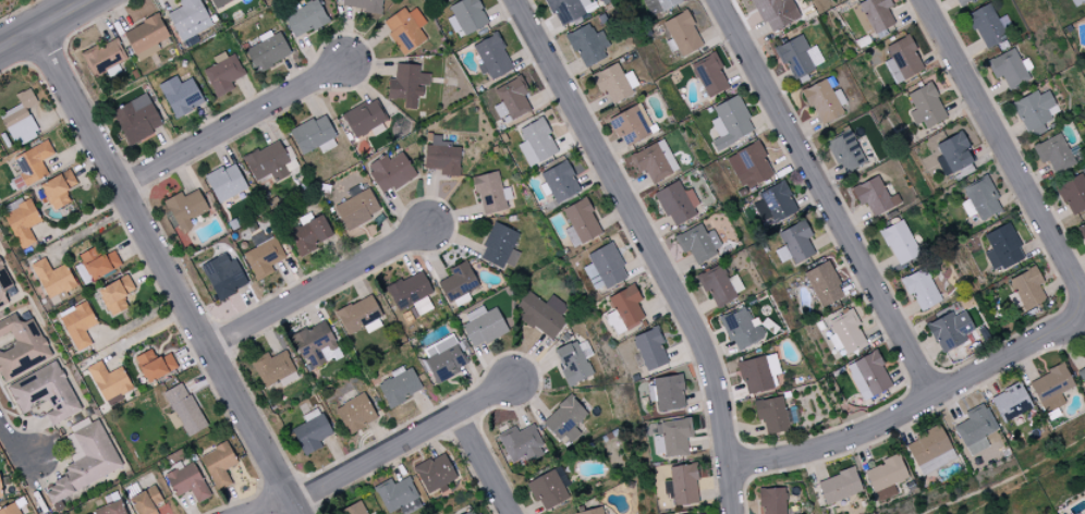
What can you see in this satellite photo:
building: (960, 1)
building: (219, 2)
building: (1077, 2)
building: (363, 4)
building: (659, 5)
road: (49, 10)
building: (566, 10)
building: (776, 13)
building: (873, 15)
building: (466, 16)
building: (188, 19)
building: (305, 19)
road: (46, 25)
building: (986, 26)
building: (405, 29)
building: (681, 35)
building: (146, 37)
building: (587, 46)
building: (268, 51)
building: (492, 57)
building: (798, 57)
building: (102, 58)
building: (902, 61)
building: (1008, 69)
building: (223, 74)
building: (709, 75)
building: (613, 83)
building: (407, 85)
building: (181, 96)
building: (513, 99)
building: (824, 101)
building: (926, 107)
building: (1035, 112)
building: (365, 118)
building: (137, 119)
building: (21, 120)
building: (730, 123)
road: (233, 125)
building: (631, 125)
building: (314, 136)
building: (536, 143)
road: (1000, 143)
building: (844, 152)
building: (1053, 154)
building: (953, 155)
building: (442, 158)
building: (267, 162)
building: (655, 162)
building: (32, 164)
building: (749, 167)
building: (390, 172)
building: (225, 183)
building: (559, 183)
building: (59, 189)
building: (490, 194)
building: (1073, 194)
building: (875, 196)
road: (827, 198)
building: (980, 199)
building: (676, 204)
building: (775, 204)
building: (185, 209)
building: (357, 209)
building: (22, 223)
building: (581, 223)
building: (1083, 229)
building: (309, 234)
building: (900, 243)
building: (697, 244)
building: (794, 244)
building: (500, 247)
road: (651, 247)
building: (1002, 248)
building: (263, 258)
building: (99, 264)
building: (604, 268)
road: (169, 271)
building: (224, 277)
building: (53, 281)
building: (459, 284)
building: (824, 284)
building: (3, 286)
building: (720, 286)
road: (318, 287)
building: (923, 290)
building: (1026, 290)
building: (411, 294)
building: (115, 295)
building: (626, 307)
building: (540, 315)
building: (359, 316)
building: (78, 325)
building: (483, 327)
building: (742, 329)
building: (949, 331)
building: (845, 333)
building: (21, 347)
building: (650, 350)
building: (444, 358)
building: (573, 363)
building: (155, 366)
building: (273, 368)
building: (758, 374)
building: (868, 376)
building: (1082, 376)
building: (109, 381)
building: (400, 387)
building: (1051, 388)
building: (45, 393)
building: (667, 393)
road: (923, 403)
building: (1011, 403)
building: (183, 411)
building: (355, 414)
building: (771, 415)
building: (564, 418)
building: (975, 430)
building: (312, 431)
building: (671, 438)
road: (402, 442)
building: (521, 444)
road: (14, 445)
building: (927, 446)
building: (85, 461)
road: (483, 463)
building: (219, 465)
building: (435, 474)
building: (886, 478)
building: (187, 482)
building: (682, 486)
building: (839, 487)
building: (548, 489)
building: (1, 491)
building: (399, 497)
building: (146, 501)
building: (772, 501)
road: (271, 506)
building: (111, 509)
building: (354, 509)
building: (11, 510)
building: (592, 512)
building: (471, 513)

